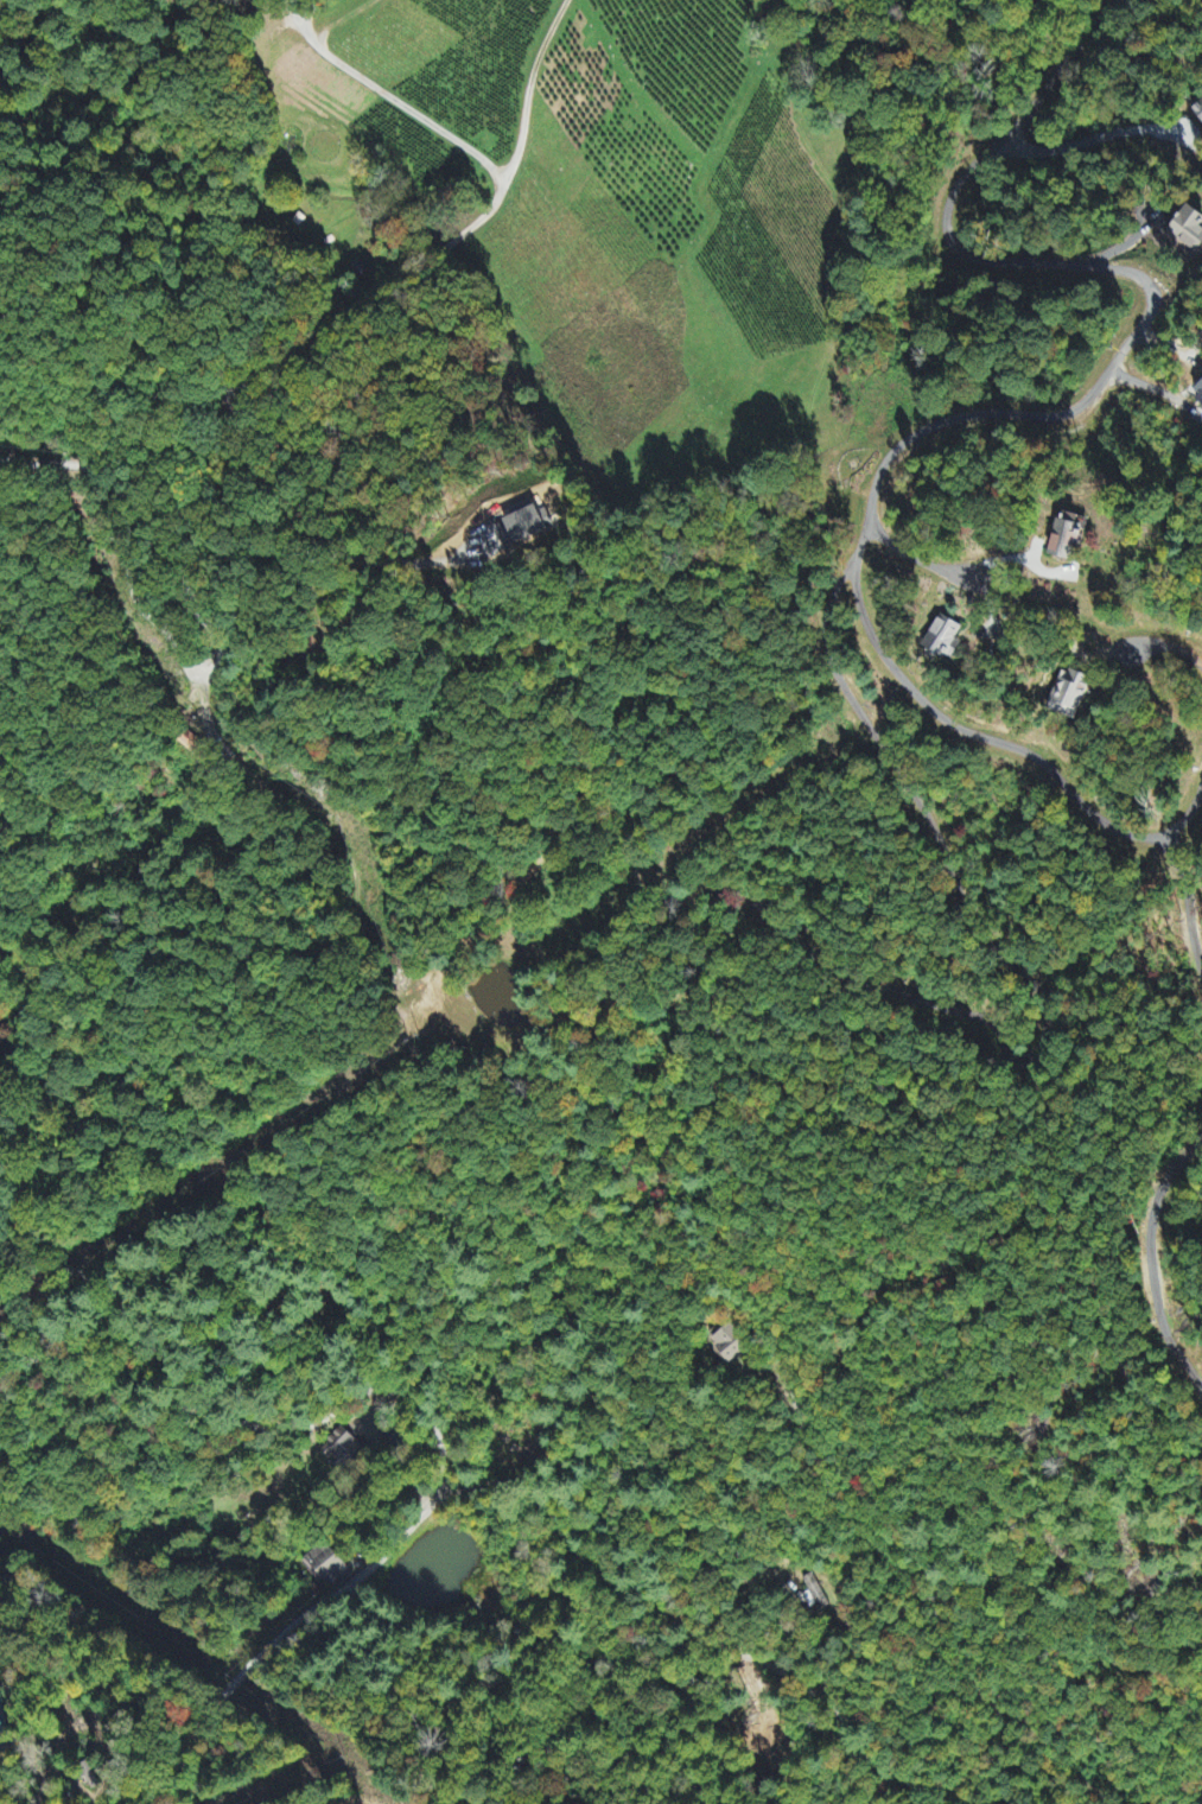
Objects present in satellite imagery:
road: (392, 99)
road: (94, 112)
building: (1198, 114)
road: (1094, 140)
building: (1189, 231)
road: (1126, 246)
road: (113, 293)
road: (336, 337)
road: (1169, 348)
road: (1009, 415)
road: (351, 465)
building: (1068, 539)
road: (915, 559)
building: (946, 639)
road: (1169, 647)
building: (1075, 692)
road: (953, 1010)
road: (526, 1138)
building: (729, 1346)
road: (424, 1402)
building: (341, 1448)
building: (330, 1569)
road: (687, 1625)
road: (148, 1715)

